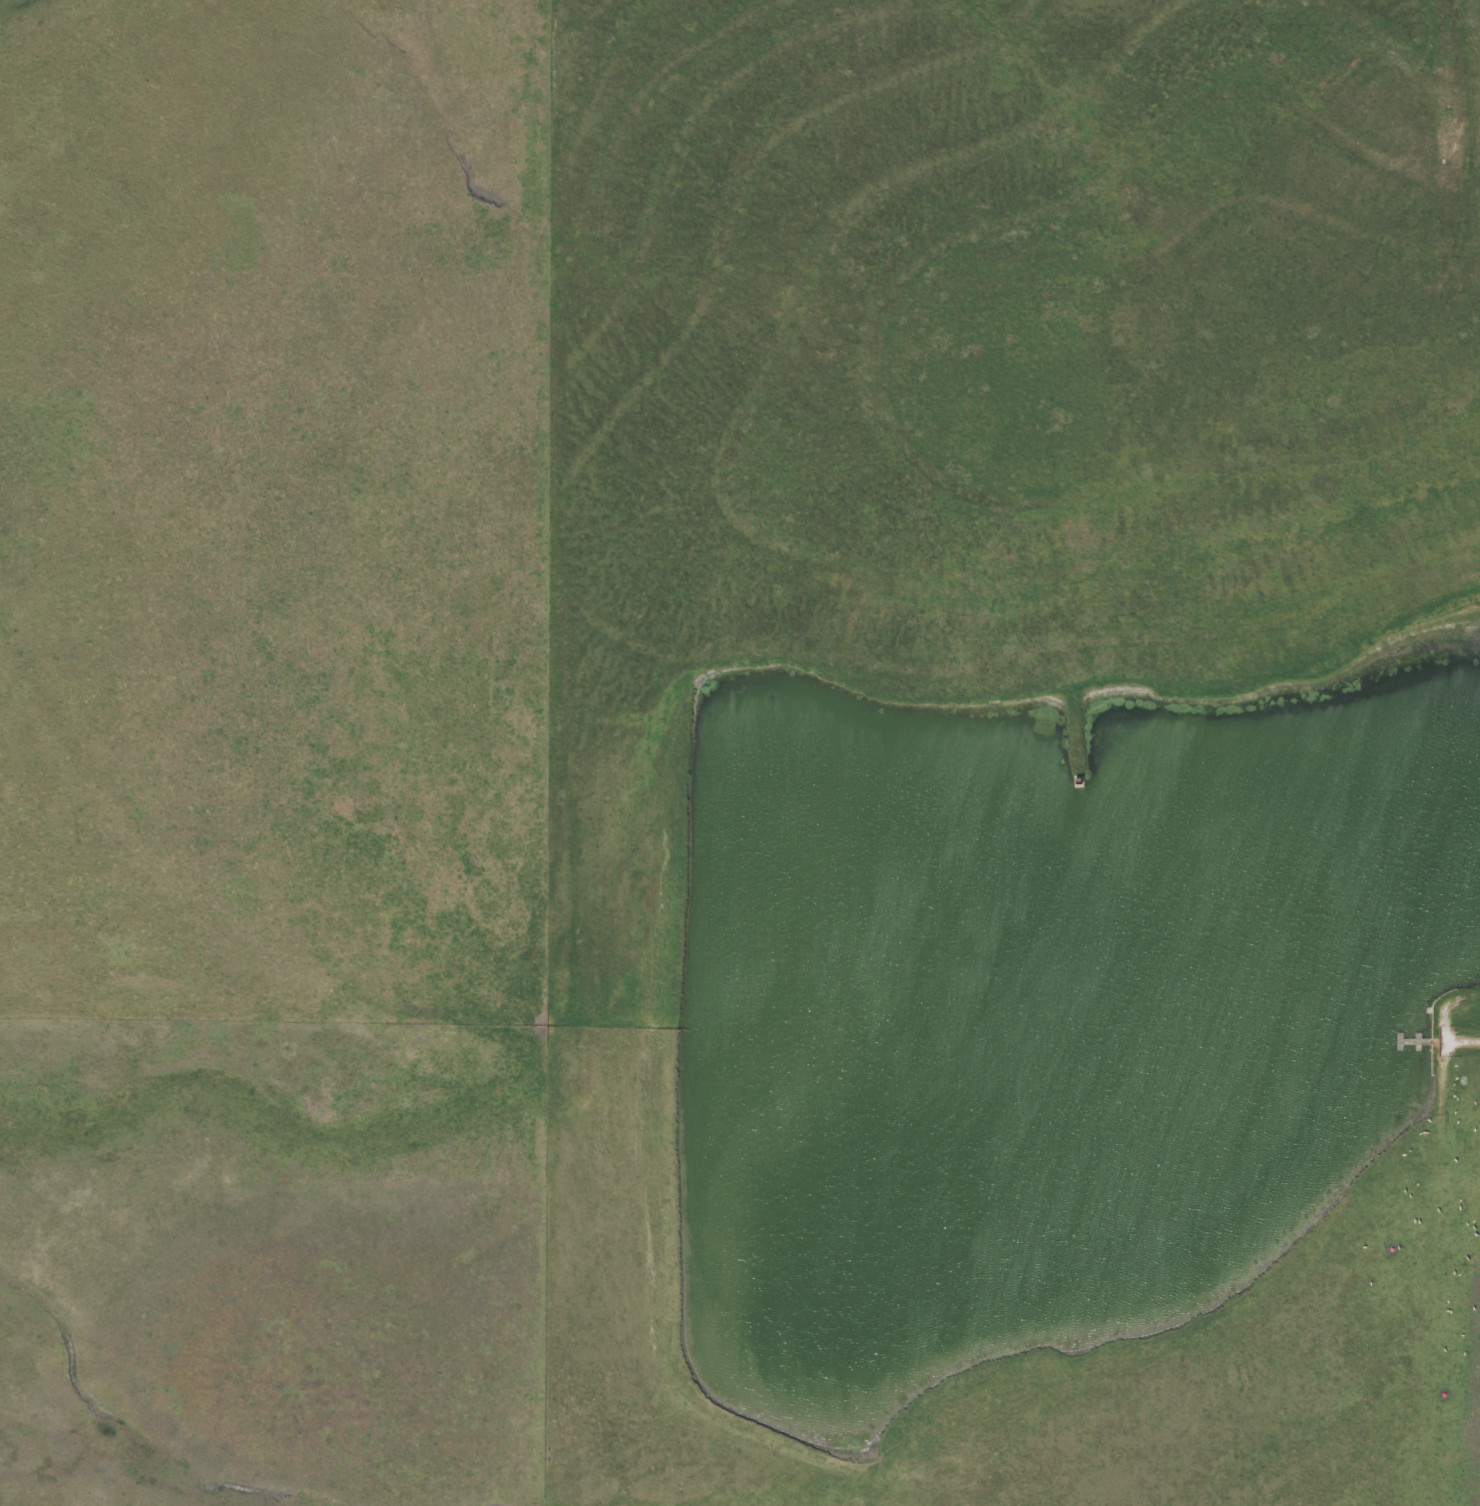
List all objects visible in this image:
road: (1461, 1039)

